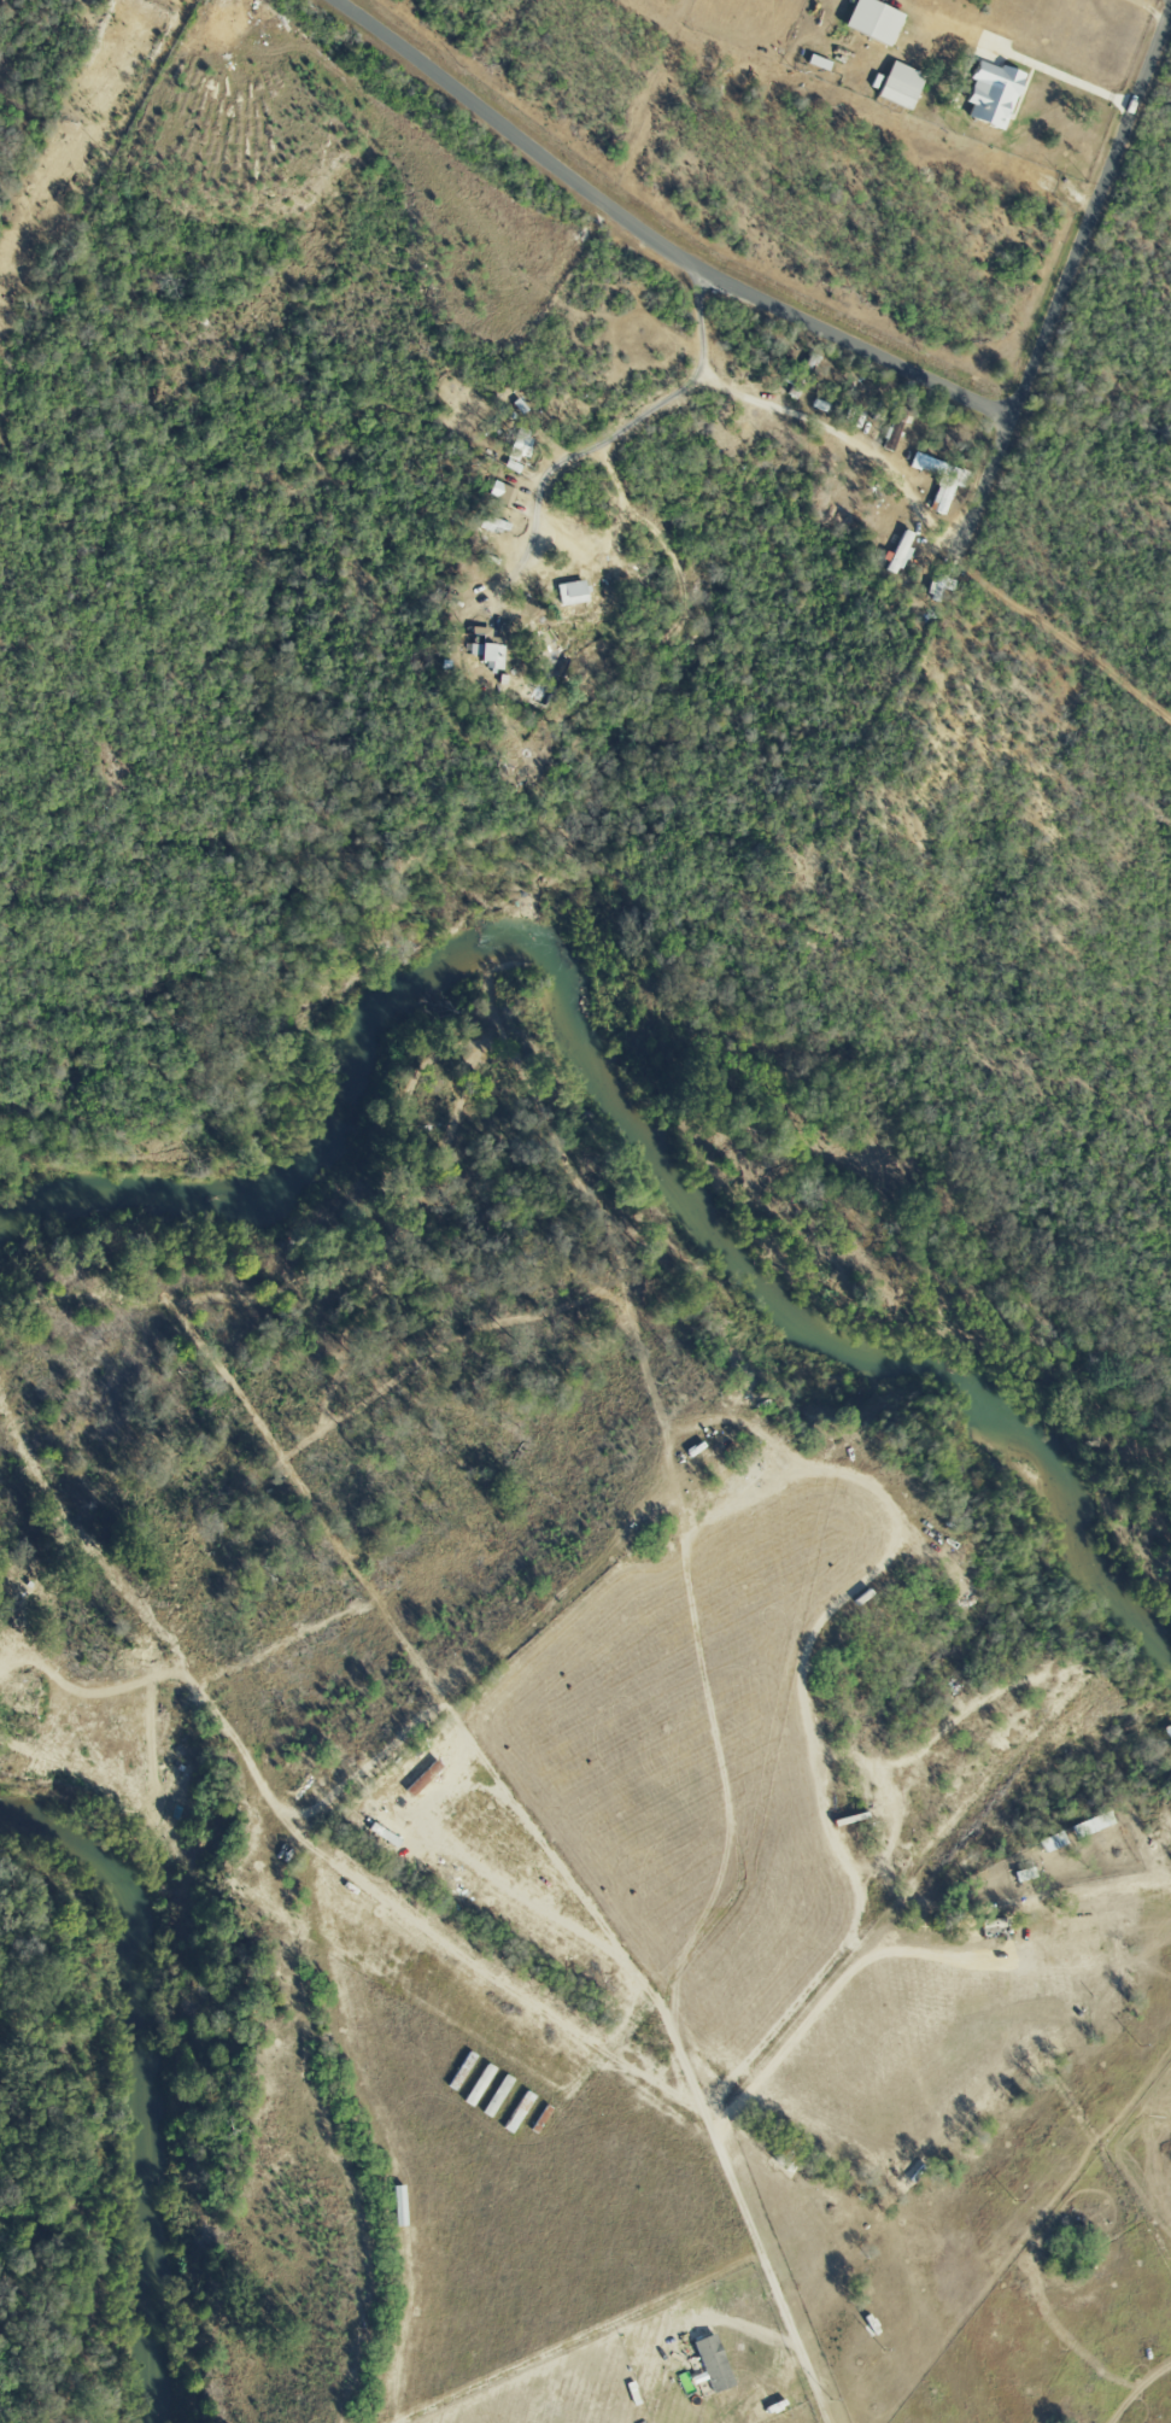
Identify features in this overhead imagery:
road: (1147, 8)
building: (871, 19)
road: (1067, 80)
building: (898, 84)
building: (990, 93)
road: (654, 240)
road: (1065, 279)
road: (698, 318)
road: (814, 420)
building: (520, 445)
road: (585, 449)
building: (511, 466)
building: (502, 491)
building: (942, 492)
building: (493, 523)
building: (897, 552)
building: (570, 592)
road: (1061, 636)
building: (487, 652)
road: (879, 700)
river: (610, 1077)
road: (833, 1465)
road: (433, 1819)
building: (381, 1833)
river: (141, 2079)
building: (398, 2205)
road: (772, 2269)
road: (751, 2329)
building: (712, 2363)

